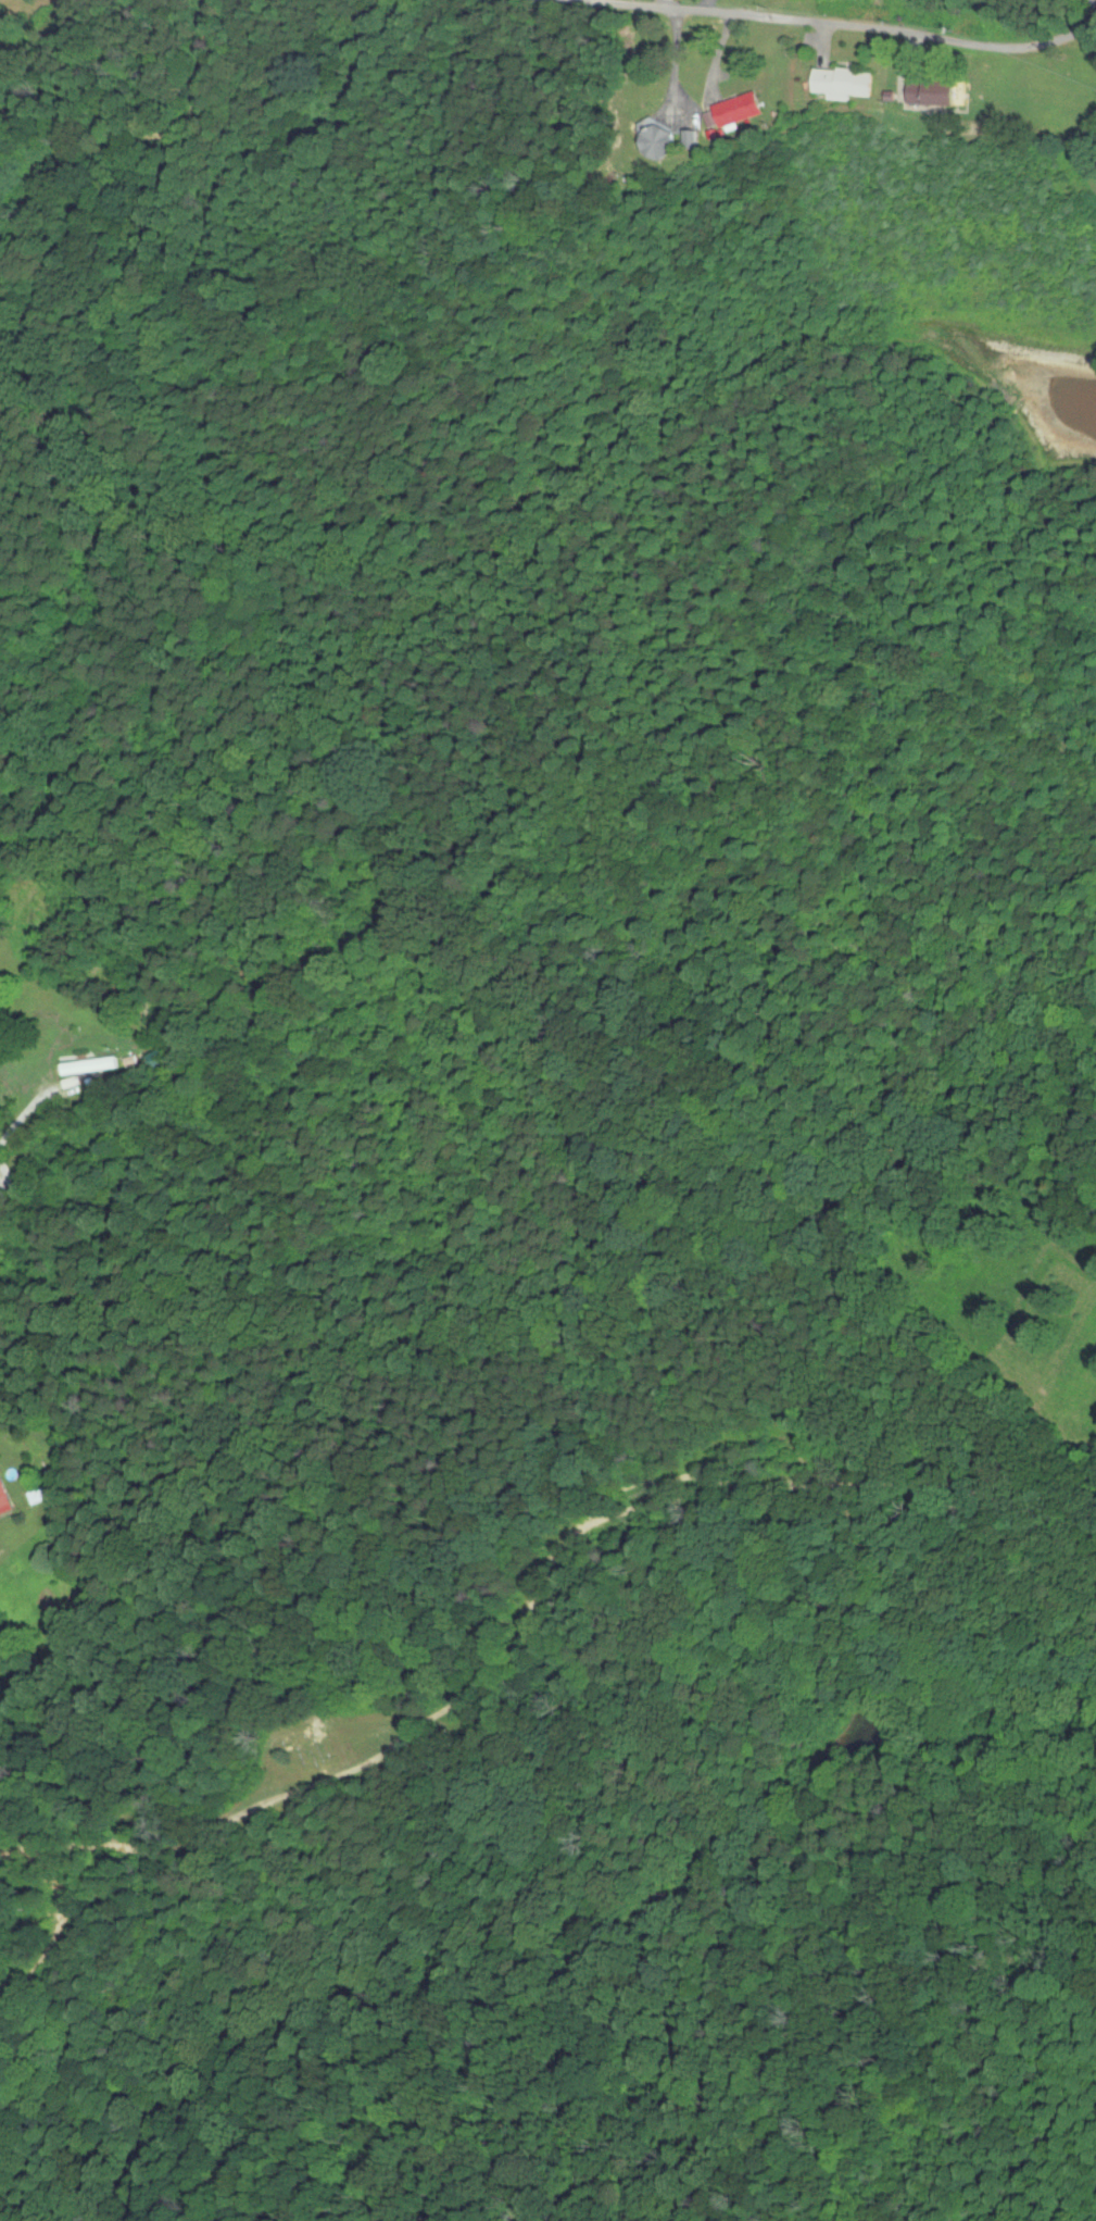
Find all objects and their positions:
road: (765, 17)
road: (1043, 43)
road: (822, 45)
road: (717, 57)
road: (671, 64)
building: (844, 84)
building: (934, 92)
building: (740, 111)
building: (92, 1068)
building: (3, 1495)
road: (121, 1855)

